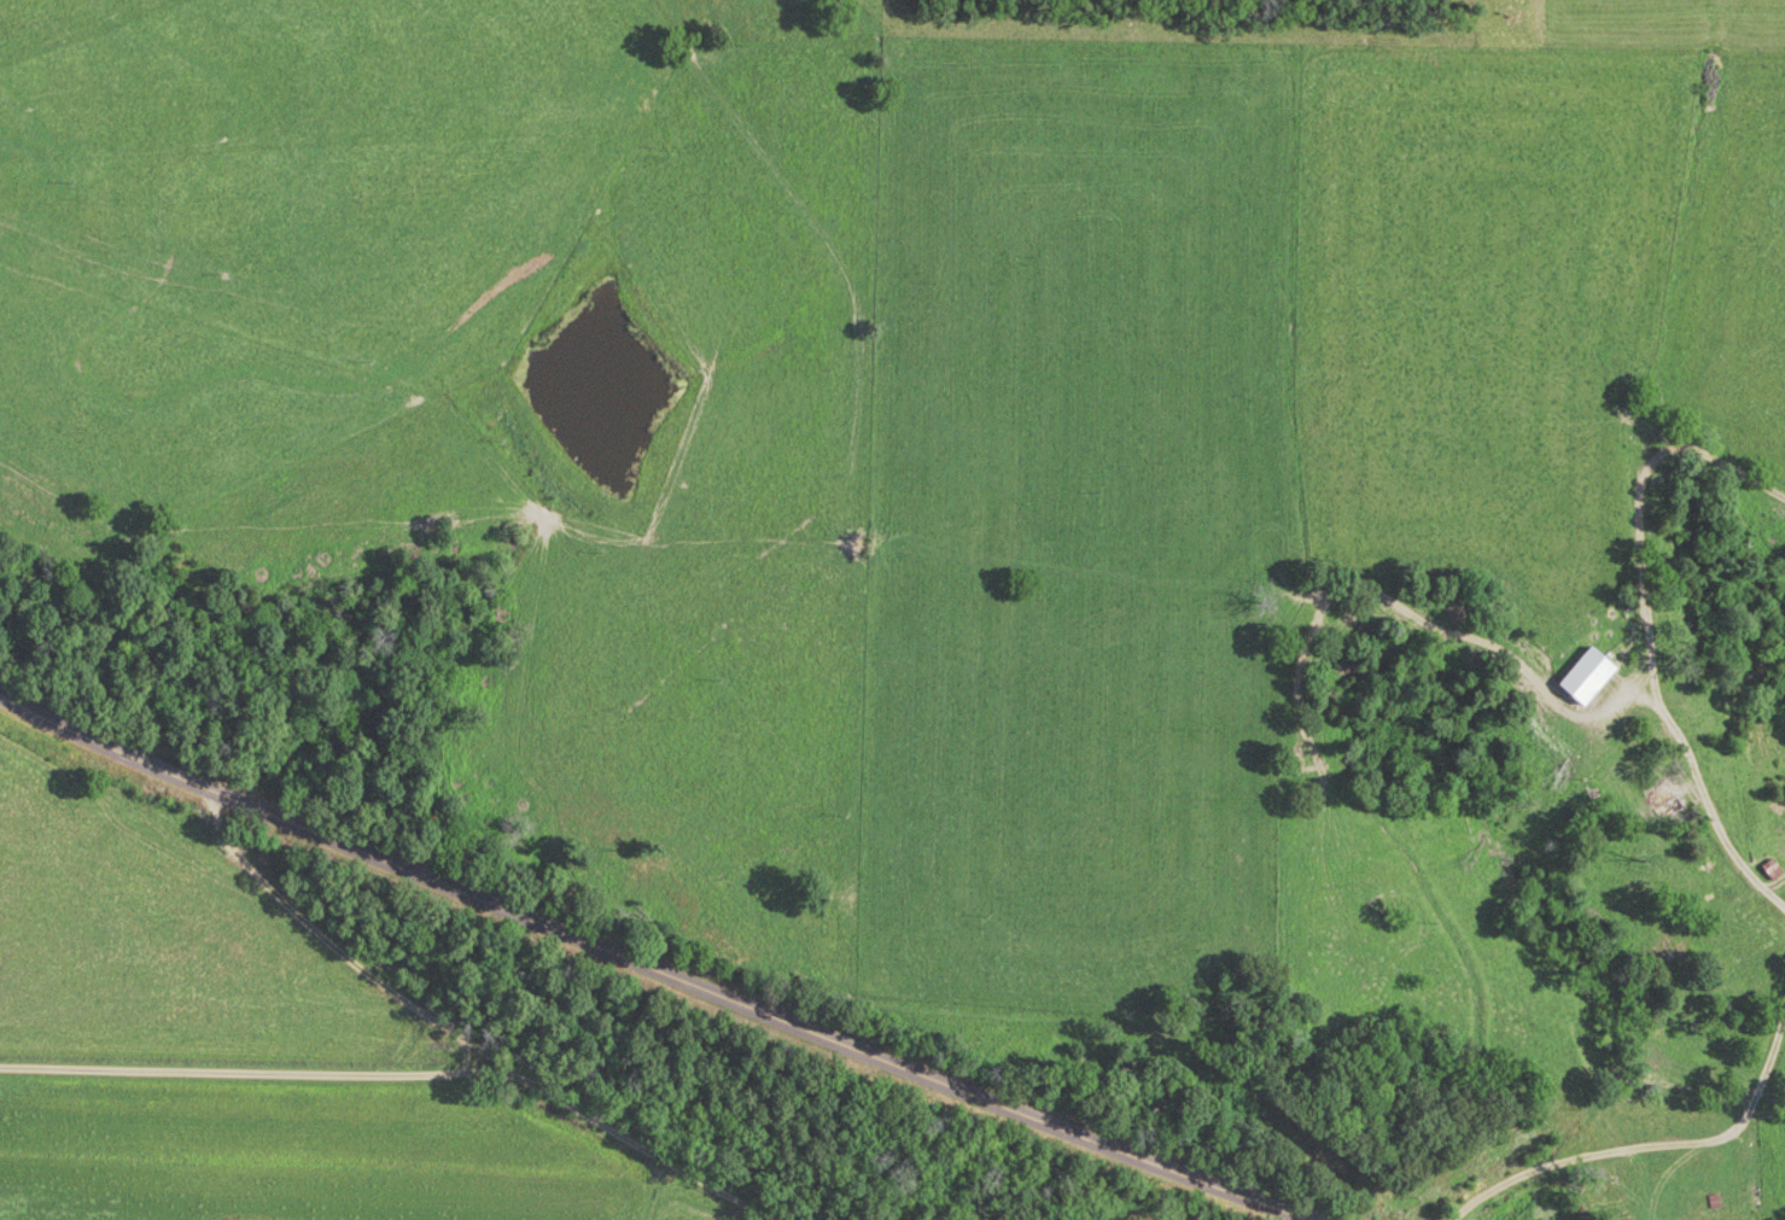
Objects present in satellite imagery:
road: (124, 124)
road: (1652, 631)
building: (1593, 677)
building: (1669, 800)
road: (651, 968)
road: (457, 1046)
road: (1646, 1152)

